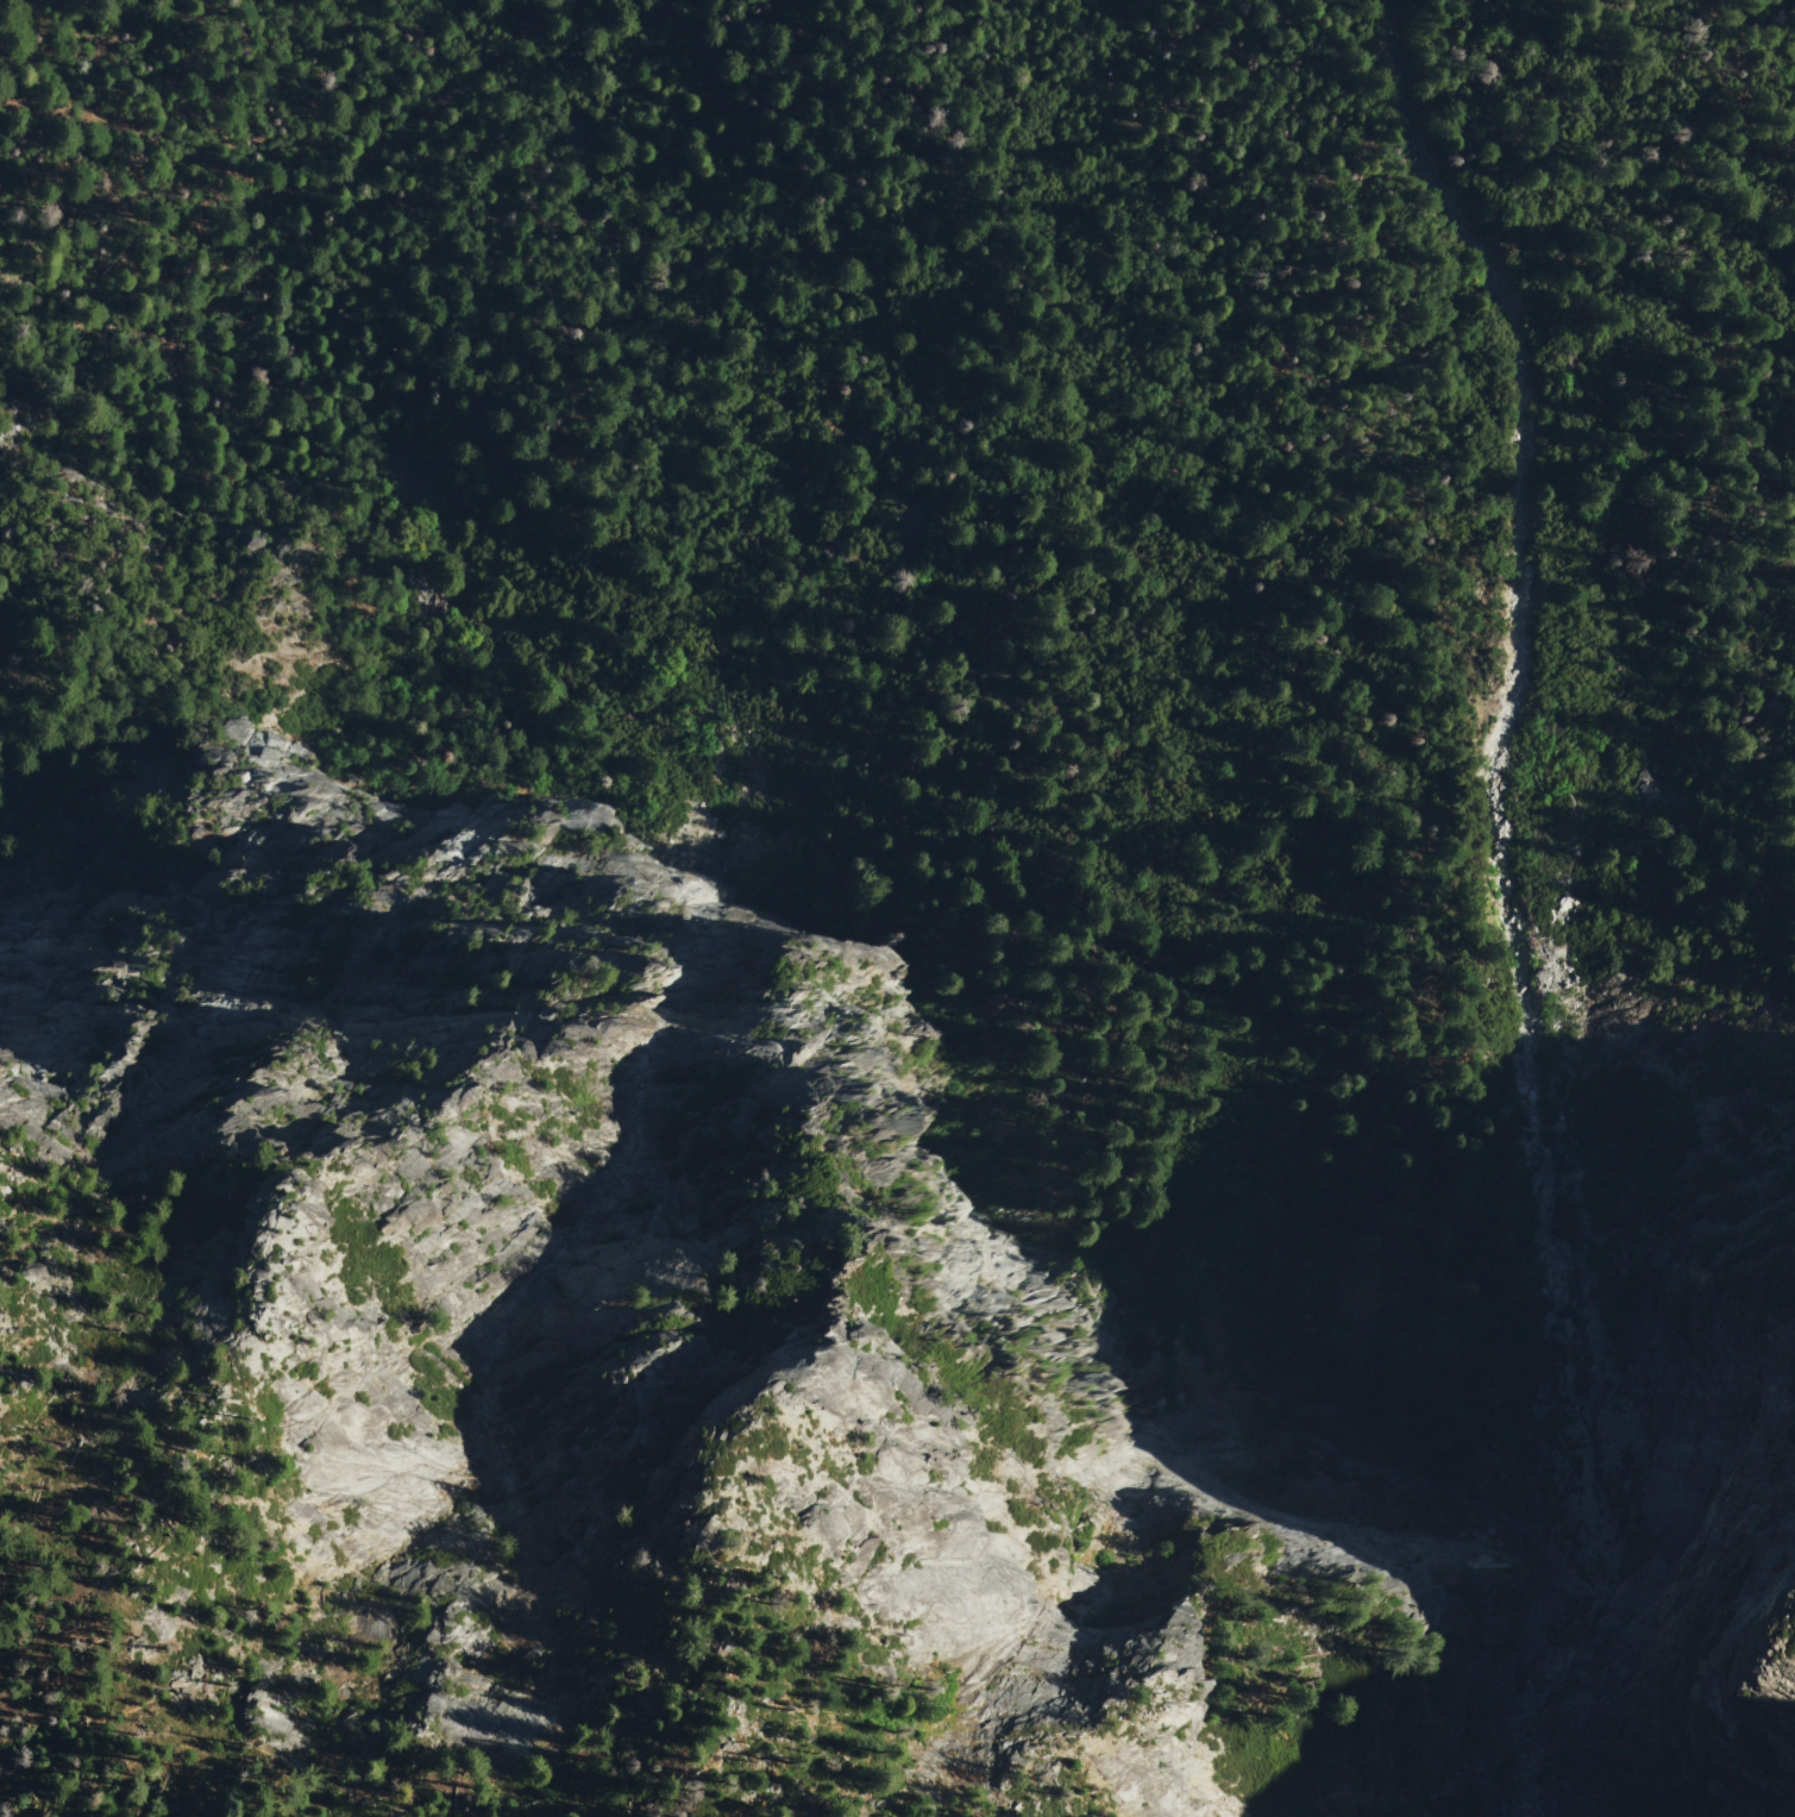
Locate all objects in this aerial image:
road: (313, 201)

